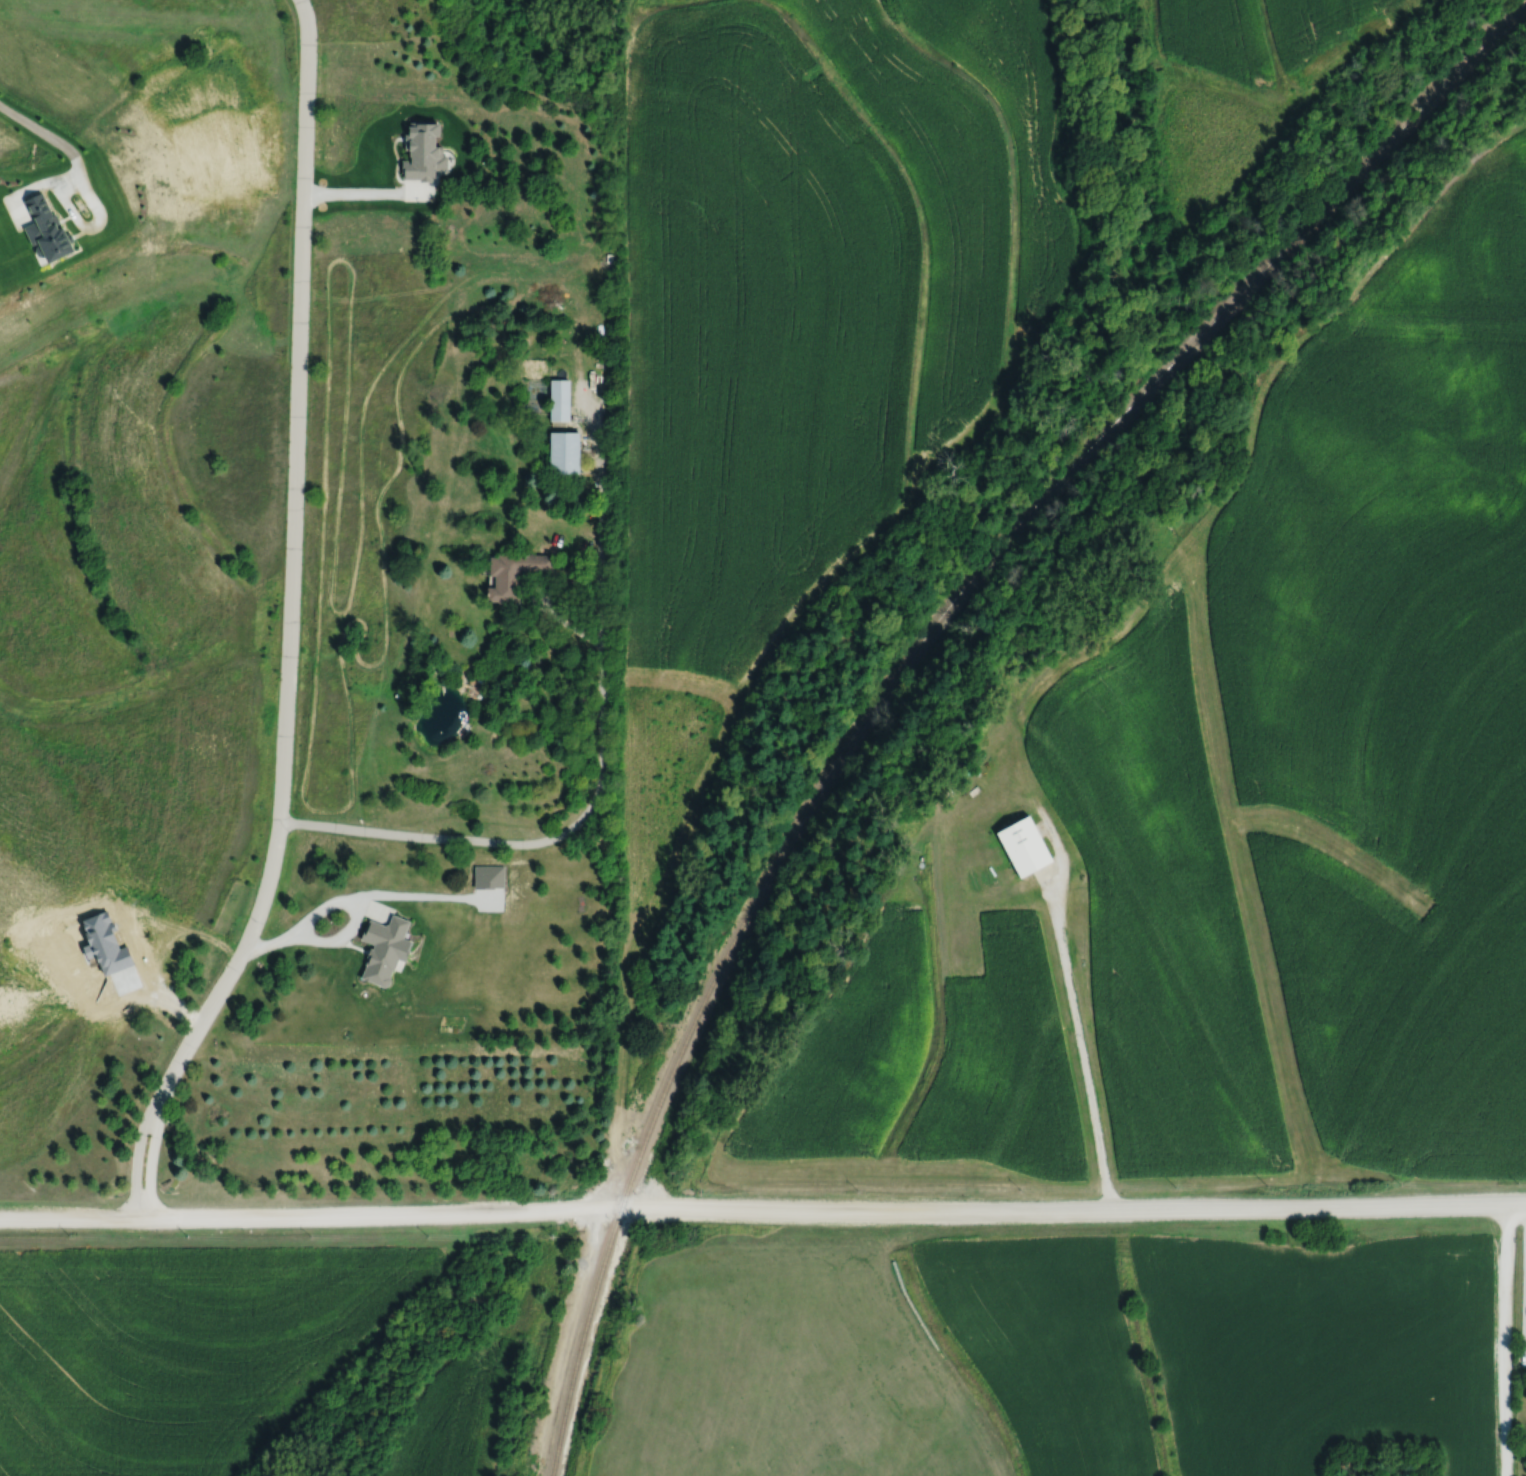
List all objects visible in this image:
crop: (1245, 80)
building: (422, 151)
road: (76, 165)
road: (366, 191)
building: (45, 229)
crop: (807, 328)
building: (559, 400)
building: (564, 450)
building: (513, 573)
road: (540, 598)
road: (289, 623)
railway: (908, 657)
road: (601, 745)
building: (1022, 844)
road: (311, 916)
road: (335, 938)
building: (383, 947)
road: (1080, 1048)
road: (762, 1208)
road: (1505, 1339)
road: (1525, 1348)

